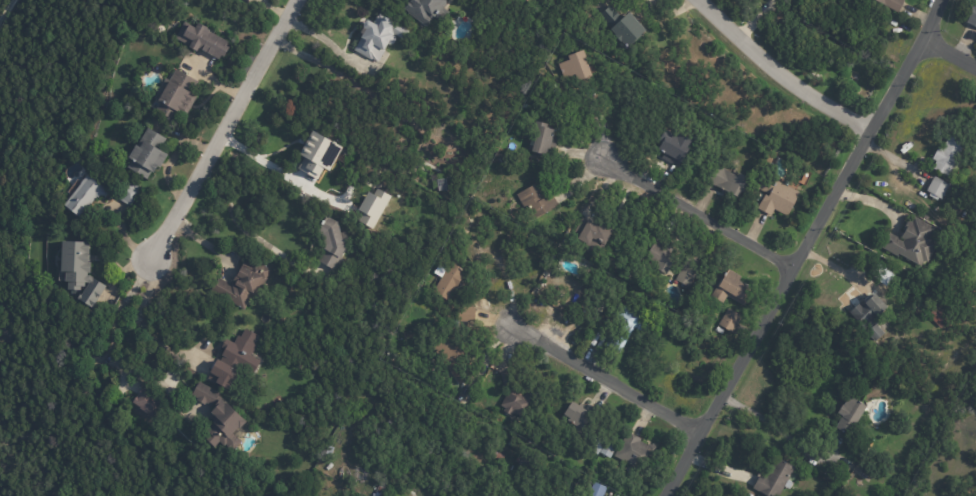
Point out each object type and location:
building: (782, 1)
building: (891, 4)
building: (426, 10)
building: (972, 15)
building: (622, 23)
building: (894, 23)
building: (378, 37)
building: (203, 40)
road: (951, 53)
building: (573, 66)
road: (780, 75)
building: (177, 96)
road: (224, 129)
building: (541, 139)
building: (672, 146)
building: (144, 155)
building: (317, 155)
building: (947, 155)
building: (974, 159)
building: (726, 180)
building: (937, 188)
building: (95, 194)
building: (775, 196)
building: (536, 200)
building: (803, 205)
road: (696, 211)
building: (590, 233)
road: (239, 237)
building: (913, 242)
building: (333, 244)
road: (807, 248)
building: (656, 260)
building: (77, 271)
building: (687, 274)
building: (884, 277)
building: (446, 279)
building: (242, 284)
building: (731, 289)
building: (866, 310)
building: (465, 314)
building: (938, 318)
building: (729, 321)
building: (625, 325)
building: (9, 326)
road: (141, 329)
building: (719, 331)
road: (115, 356)
building: (389, 356)
building: (451, 357)
building: (231, 360)
road: (605, 378)
building: (506, 379)
building: (202, 394)
building: (146, 403)
building: (515, 403)
building: (579, 415)
building: (848, 415)
road: (765, 419)
building: (220, 427)
building: (600, 447)
building: (327, 450)
building: (520, 451)
building: (635, 453)
building: (497, 457)
building: (774, 479)
building: (595, 490)

